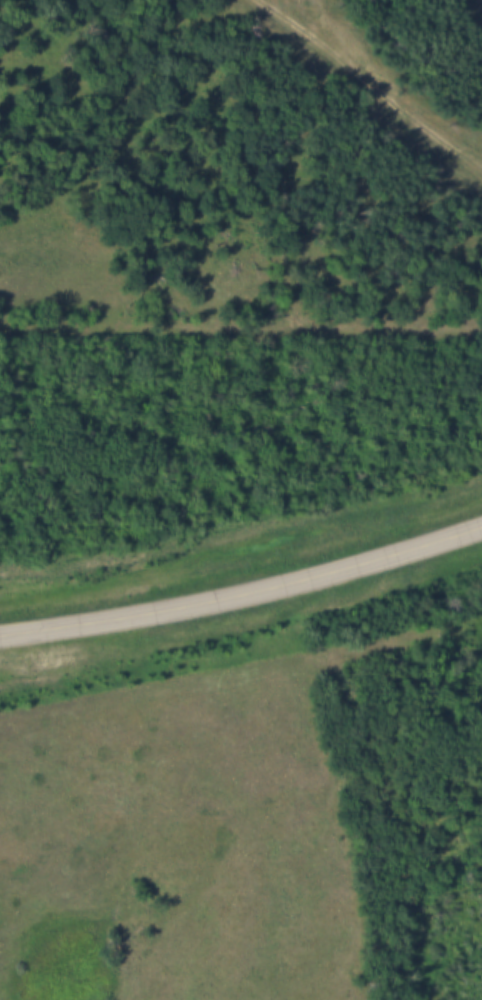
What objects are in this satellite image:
road: (368, 87)
road: (243, 594)

